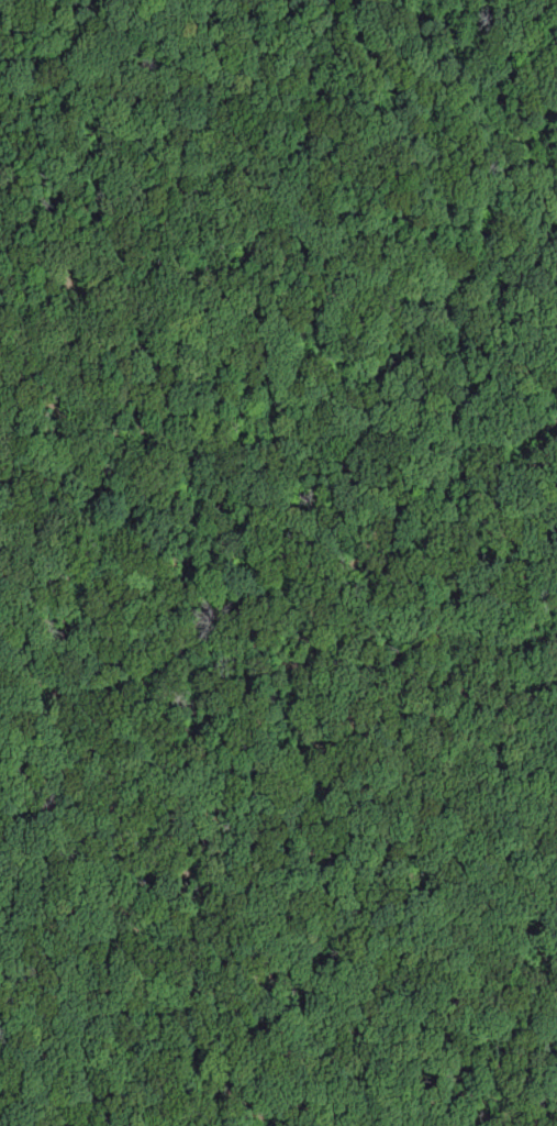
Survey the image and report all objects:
road: (545, 5)
park: (278, 563)
road: (525, 1075)

